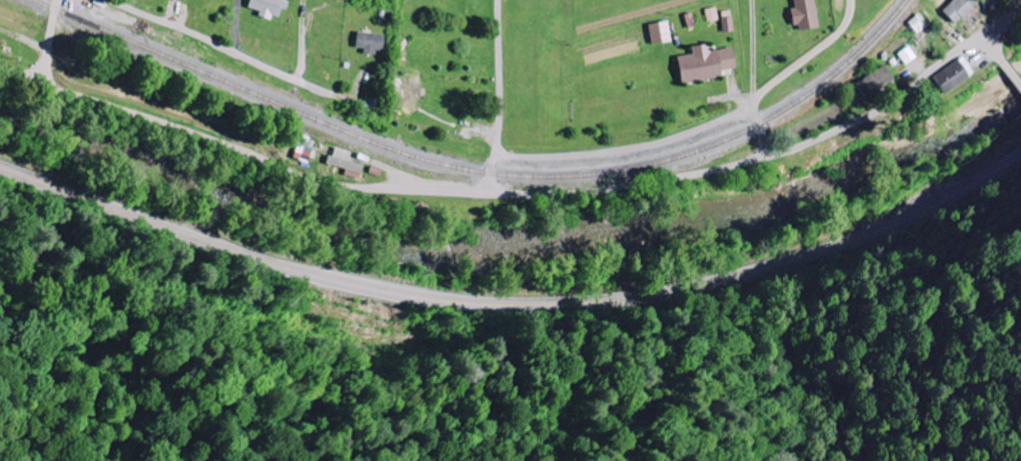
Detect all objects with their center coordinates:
road: (1013, 3)
road: (1019, 4)
building: (266, 7)
building: (956, 9)
building: (802, 14)
road: (999, 26)
building: (657, 32)
road: (47, 40)
building: (367, 42)
road: (219, 46)
road: (995, 53)
building: (905, 54)
building: (702, 63)
road: (1012, 70)
road: (787, 71)
building: (950, 75)
building: (871, 81)
road: (499, 95)
building: (301, 148)
road: (627, 148)
building: (341, 161)
railway: (481, 169)
road: (498, 190)
river: (517, 241)
road: (513, 304)

